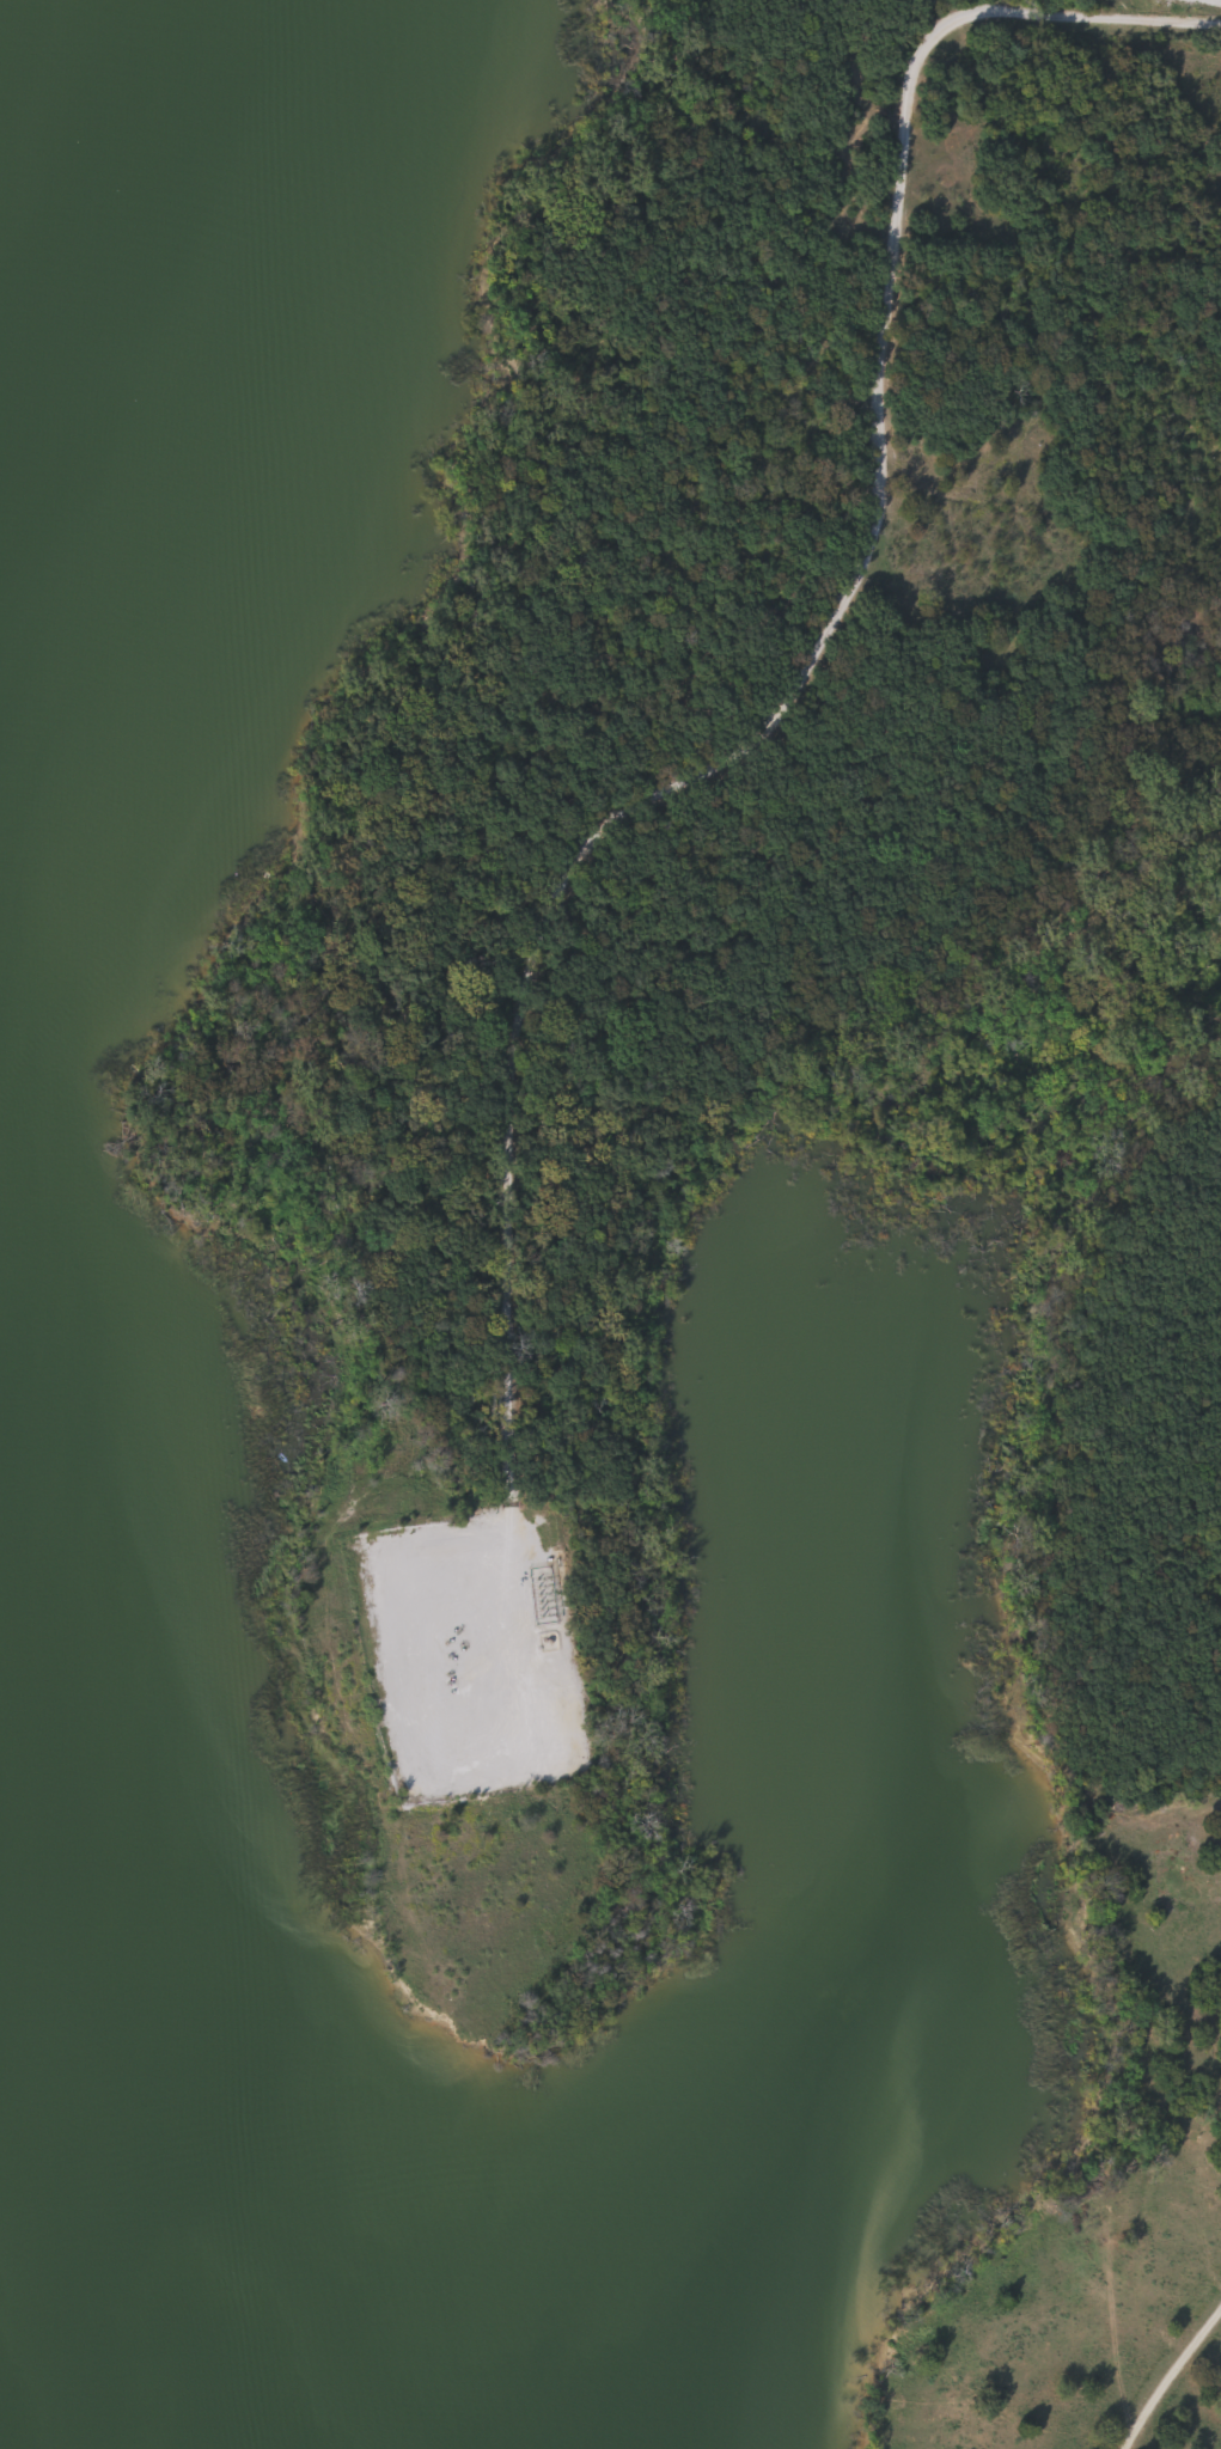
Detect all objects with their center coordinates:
road: (799, 671)
road: (481, 1616)
road: (1182, 2015)
road: (1168, 2376)

